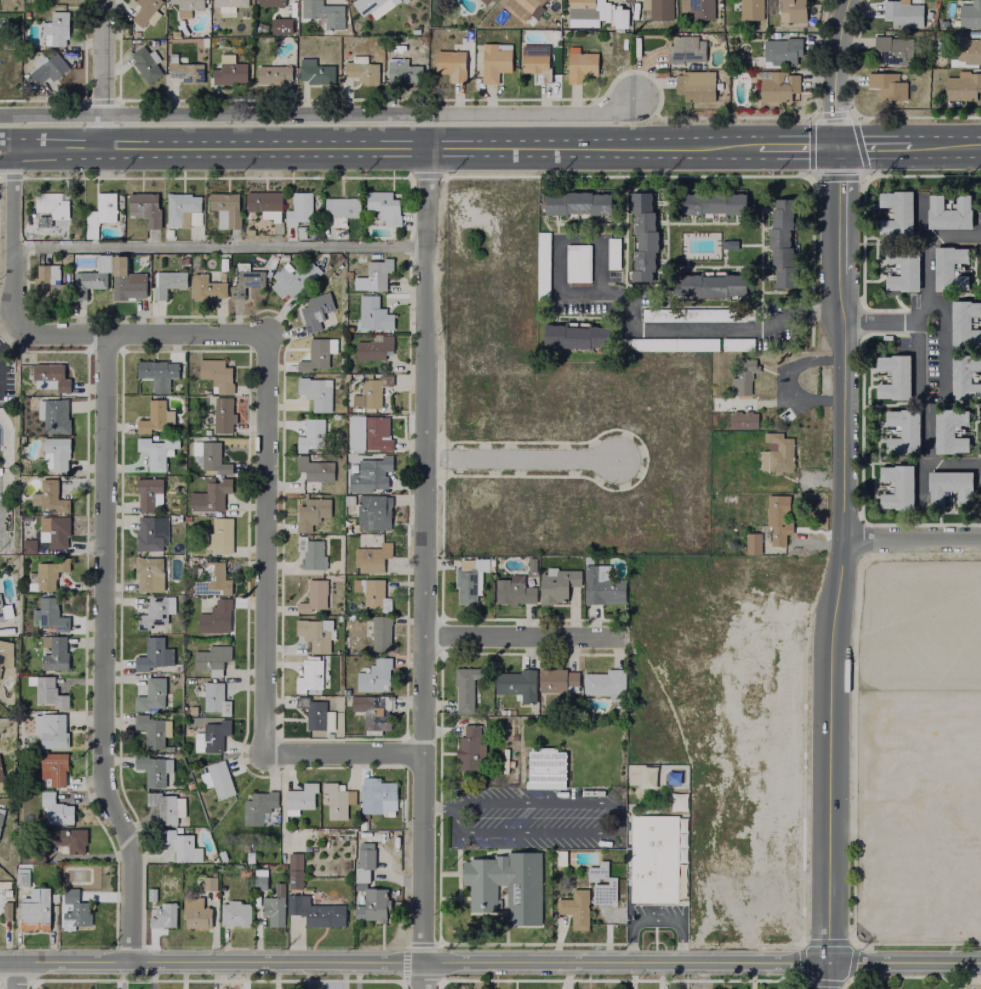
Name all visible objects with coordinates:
building: (405, 0)
building: (484, 0)
building: (228, 4)
building: (187, 5)
building: (280, 5)
building: (520, 6)
building: (373, 7)
building: (697, 7)
building: (581, 8)
building: (655, 8)
building: (749, 9)
building: (145, 11)
building: (324, 12)
building: (902, 12)
building: (969, 12)
building: (791, 13)
building: (620, 19)
building: (261, 25)
building: (55, 27)
building: (281, 27)
building: (889, 47)
building: (685, 48)
building: (968, 49)
building: (778, 50)
building: (494, 59)
building: (533, 59)
building: (146, 61)
building: (452, 62)
building: (46, 65)
building: (578, 65)
building: (184, 67)
building: (360, 69)
building: (403, 69)
building: (314, 70)
road: (835, 71)
building: (229, 72)
road: (102, 73)
building: (273, 74)
building: (886, 84)
building: (962, 84)
building: (693, 85)
building: (777, 85)
road: (319, 115)
road: (945, 144)
road: (797, 145)
traffic signals: (838, 145)
road: (873, 145)
road: (378, 146)
building: (706, 200)
building: (264, 202)
building: (51, 203)
building: (580, 204)
building: (144, 206)
building: (384, 206)
building: (181, 207)
building: (225, 207)
building: (299, 207)
building: (340, 209)
building: (889, 209)
building: (949, 211)
building: (99, 212)
building: (195, 219)
building: (308, 231)
building: (646, 236)
building: (778, 239)
building: (728, 243)
road: (216, 250)
building: (611, 252)
building: (576, 262)
building: (118, 264)
building: (541, 264)
building: (947, 265)
building: (902, 269)
building: (375, 274)
building: (245, 278)
building: (45, 280)
building: (86, 281)
building: (168, 281)
building: (286, 281)
building: (707, 283)
building: (207, 285)
road: (10, 286)
building: (126, 288)
building: (315, 311)
road: (629, 311)
building: (372, 312)
building: (696, 314)
building: (963, 319)
road: (884, 322)
road: (5, 334)
building: (577, 337)
building: (683, 343)
building: (374, 347)
road: (923, 352)
building: (321, 356)
building: (157, 372)
building: (215, 373)
building: (963, 373)
building: (890, 374)
building: (49, 375)
building: (742, 376)
building: (317, 391)
building: (371, 392)
building: (54, 415)
building: (154, 415)
building: (220, 417)
building: (741, 419)
building: (947, 427)
building: (899, 428)
building: (311, 433)
building: (370, 435)
building: (156, 450)
building: (56, 452)
building: (775, 452)
building: (211, 454)
road: (520, 462)
building: (315, 471)
building: (371, 474)
building: (893, 484)
building: (946, 485)
building: (149, 492)
building: (49, 495)
building: (211, 496)
building: (728, 501)
building: (311, 511)
building: (374, 514)
building: (776, 517)
parking lot: (5, 523)
building: (54, 531)
building: (150, 533)
building: (220, 537)
road: (911, 540)
building: (752, 542)
building: (28, 544)
road: (263, 545)
building: (311, 552)
building: (372, 554)
road: (837, 566)
road: (421, 567)
building: (149, 572)
building: (40, 573)
building: (215, 576)
building: (467, 583)
building: (555, 583)
building: (600, 584)
building: (513, 590)
building: (372, 592)
building: (313, 595)
building: (155, 611)
building: (1, 613)
building: (51, 613)
building: (215, 616)
park: (919, 625)
building: (379, 631)
building: (315, 633)
road: (522, 638)
building: (53, 651)
building: (5, 652)
road: (101, 652)
building: (150, 653)
building: (211, 658)
building: (311, 674)
building: (374, 675)
building: (556, 679)
building: (517, 683)
building: (604, 683)
building: (462, 687)
building: (47, 690)
building: (153, 693)
building: (214, 698)
building: (371, 710)
building: (316, 713)
building: (151, 729)
building: (52, 730)
building: (211, 736)
building: (512, 737)
building: (468, 747)
building: (53, 767)
building: (154, 769)
building: (547, 771)
building: (1, 775)
building: (217, 778)
building: (377, 795)
building: (299, 797)
building: (337, 799)
building: (677, 802)
building: (167, 807)
building: (54, 808)
building: (261, 808)
road: (438, 808)
building: (1, 813)
road: (861, 816)
road: (893, 816)
parking lot: (918, 816)
road: (929, 816)
road: (964, 816)
parking lot: (535, 818)
road: (618, 830)
road: (903, 830)
building: (66, 839)
building: (180, 845)
building: (245, 847)
building: (249, 856)
building: (559, 856)
building: (654, 860)
building: (363, 865)
building: (295, 869)
building: (244, 871)
building: (260, 878)
building: (209, 882)
building: (600, 883)
building: (151, 891)
building: (521, 891)
building: (22, 893)
building: (275, 906)
building: (373, 906)
building: (71, 908)
building: (6, 909)
building: (35, 910)
building: (315, 910)
building: (573, 911)
building: (195, 912)
building: (234, 913)
building: (163, 915)
road: (656, 922)
road: (916, 944)
road: (490, 963)
road: (848, 963)
road: (702, 975)
road: (14, 976)
road: (969, 976)
road: (913, 978)
road: (876, 983)
parking lot: (964, 988)

